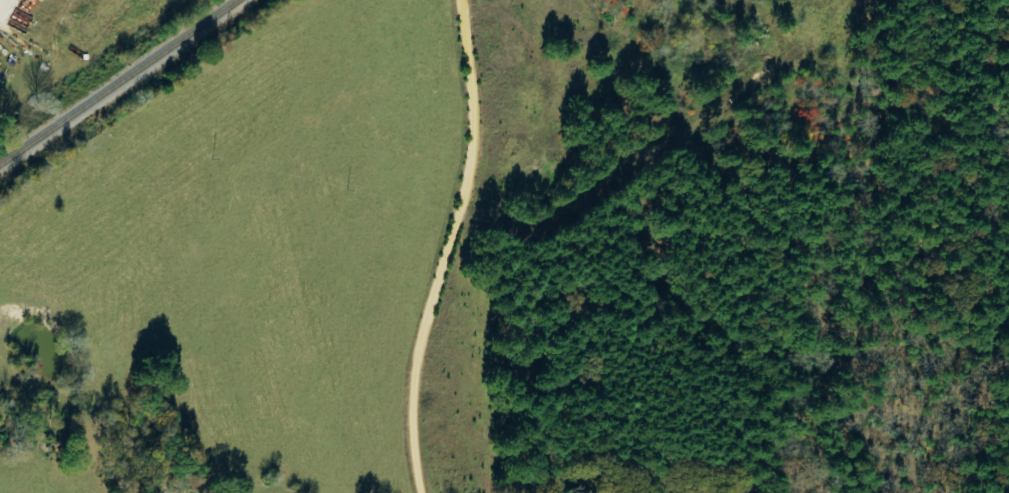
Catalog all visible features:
road: (476, 75)
railway: (120, 82)
road: (451, 318)

